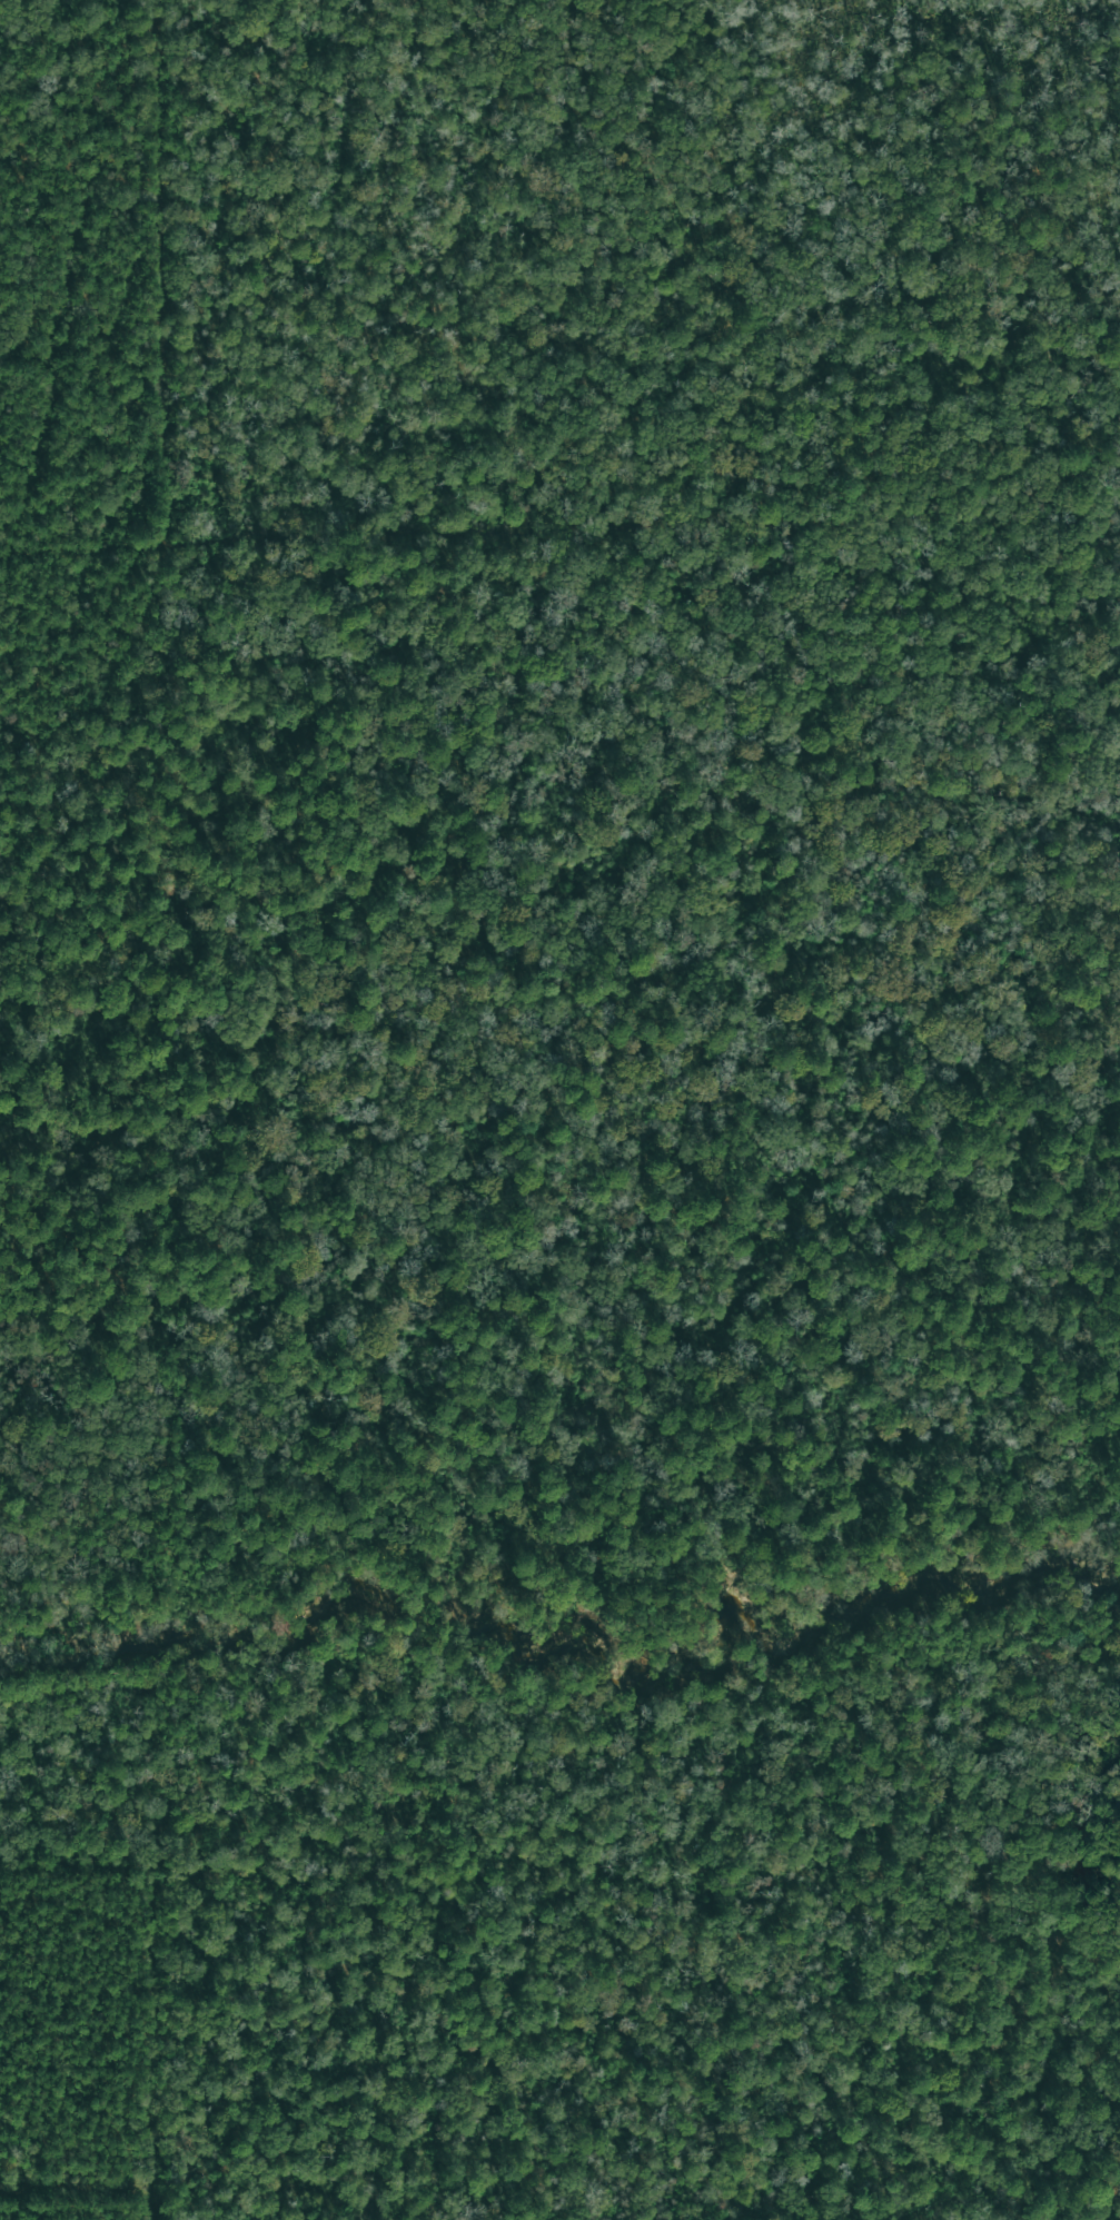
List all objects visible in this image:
road: (79, 2183)
road: (158, 2202)

